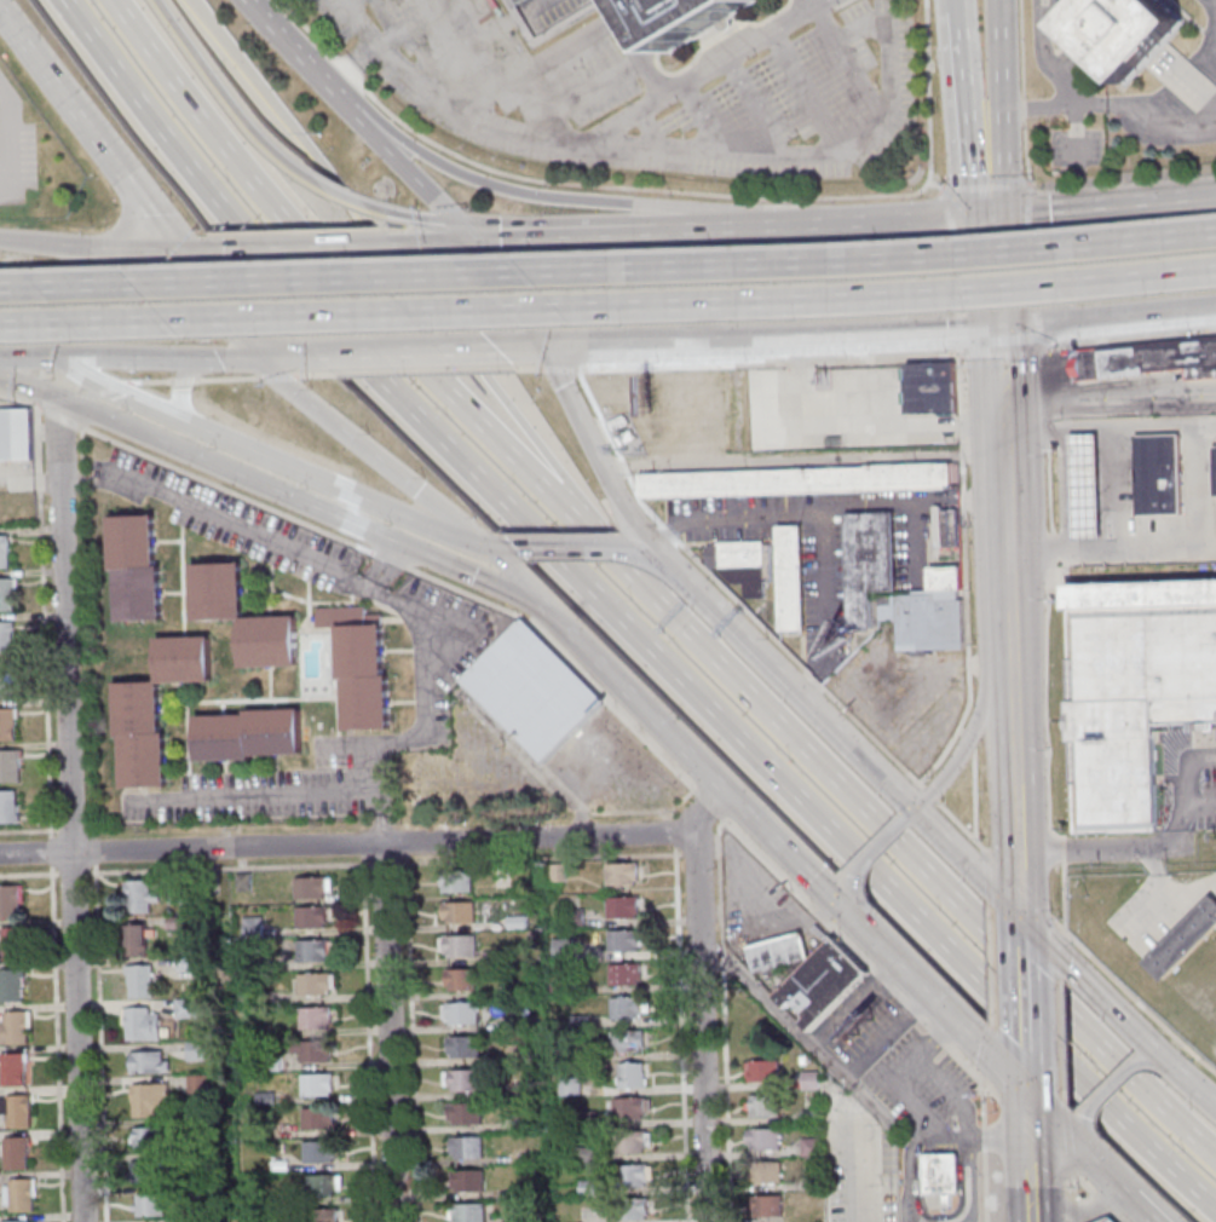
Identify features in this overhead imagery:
road: (344, 2)
road: (809, 2)
road: (831, 2)
road: (840, 4)
road: (951, 4)
building: (688, 17)
road: (305, 28)
road: (387, 39)
road: (282, 41)
building: (1137, 44)
road: (460, 52)
road: (640, 54)
road: (1205, 56)
road: (534, 65)
road: (346, 71)
road: (997, 73)
road: (695, 74)
road: (957, 77)
road: (1183, 77)
road: (1060, 81)
road: (858, 85)
road: (805, 91)
road: (1021, 92)
road: (580, 96)
road: (224, 99)
road: (1083, 104)
road: (753, 105)
road: (342, 108)
road: (273, 114)
road: (704, 117)
road: (1185, 119)
road: (204, 122)
road: (86, 131)
road: (649, 131)
road: (4, 137)
parking lot: (16, 149)
road: (167, 152)
road: (693, 152)
road: (985, 177)
road: (416, 183)
road: (933, 185)
road: (1027, 185)
road: (982, 186)
road: (529, 194)
road: (336, 195)
road: (725, 195)
road: (1148, 196)
road: (1035, 207)
road: (1027, 209)
road: (947, 212)
traffic signals: (989, 212)
road: (414, 215)
road: (876, 218)
road: (714, 227)
road: (646, 229)
road: (548, 231)
traffic signals: (467, 234)
road: (431, 241)
road: (304, 244)
road: (86, 247)
road: (194, 248)
traffic signals: (173, 249)
road: (1041, 259)
road: (993, 261)
road: (607, 269)
road: (194, 275)
road: (664, 286)
road: (505, 289)
road: (607, 306)
road: (1146, 316)
road: (998, 319)
road: (1037, 324)
road: (1038, 324)
road: (957, 327)
traffic signals: (999, 328)
road: (832, 335)
road: (1128, 340)
road: (605, 345)
traffic signals: (543, 346)
road: (518, 347)
road: (400, 350)
road: (959, 351)
road: (292, 352)
road: (1001, 352)
road: (27, 357)
traffic signals: (57, 357)
road: (163, 357)
building: (1146, 358)
road: (737, 363)
road: (1001, 368)
road: (417, 370)
road: (309, 375)
road: (276, 376)
road: (227, 377)
road: (474, 377)
road: (152, 380)
road: (184, 380)
road: (177, 386)
road: (114, 387)
building: (930, 387)
road: (438, 391)
road: (92, 396)
road: (17, 398)
road: (62, 399)
road: (1110, 408)
road: (1003, 421)
road: (345, 432)
building: (13, 434)
road: (1045, 437)
road: (235, 442)
road: (1003, 449)
road: (594, 455)
building: (1212, 471)
building: (1154, 474)
building: (799, 479)
road: (1004, 484)
road: (1116, 484)
building: (1082, 486)
road: (272, 491)
road: (823, 508)
road: (242, 525)
building: (947, 526)
building: (129, 542)
road: (497, 547)
road: (567, 547)
road: (1050, 547)
traffic signals: (492, 548)
building: (2, 552)
road: (645, 552)
road: (1007, 560)
building: (739, 563)
building: (869, 564)
road: (408, 569)
road: (519, 577)
building: (791, 577)
road: (966, 577)
road: (691, 589)
building: (214, 592)
building: (136, 594)
building: (5, 595)
traffic signals: (547, 606)
building: (929, 611)
building: (338, 616)
road: (42, 619)
building: (370, 619)
road: (571, 632)
building: (4, 638)
building: (266, 641)
building: (358, 651)
building: (180, 661)
building: (1147, 662)
building: (6, 681)
road: (622, 684)
road: (790, 688)
building: (529, 692)
building: (364, 703)
road: (1044, 704)
building: (136, 709)
road: (1012, 719)
building: (6, 725)
road: (970, 728)
road: (959, 730)
road: (866, 731)
building: (271, 732)
building: (220, 738)
road: (967, 740)
road: (750, 755)
road: (526, 757)
building: (142, 761)
road: (364, 762)
building: (1116, 766)
building: (7, 767)
road: (883, 783)
road: (1183, 784)
road: (927, 792)
road: (974, 795)
parking lot: (1206, 799)
building: (6, 808)
road: (69, 809)
road: (639, 811)
road: (745, 811)
road: (665, 814)
road: (958, 824)
road: (34, 830)
road: (672, 832)
road: (1016, 835)
road: (384, 840)
road: (407, 847)
road: (874, 847)
road: (362, 848)
road: (897, 848)
road: (1061, 848)
road: (1116, 849)
road: (50, 851)
road: (674, 851)
road: (35, 853)
road: (688, 853)
road: (985, 854)
road: (94, 857)
road: (541, 858)
road: (1018, 858)
road: (385, 863)
road: (184, 867)
building: (557, 874)
building: (621, 874)
road: (1156, 877)
road: (987, 880)
building: (243, 881)
building: (456, 882)
road: (1019, 884)
building: (311, 887)
road: (1020, 892)
road: (1062, 892)
road: (842, 893)
building: (177, 894)
building: (139, 895)
parking lot: (754, 899)
building: (10, 900)
building: (622, 906)
road: (1170, 907)
building: (459, 912)
building: (311, 917)
building: (574, 918)
traffic signals: (1021, 918)
building: (175, 922)
building: (517, 922)
road: (791, 926)
building: (252, 927)
road: (1021, 932)
park: (1158, 936)
building: (134, 939)
building: (623, 940)
building: (1182, 940)
building: (12, 944)
building: (460, 945)
building: (561, 949)
building: (311, 950)
building: (777, 951)
road: (1060, 951)
road: (1060, 956)
building: (492, 957)
road: (860, 957)
road: (990, 959)
building: (185, 963)
building: (624, 974)
building: (140, 980)
building: (461, 980)
building: (823, 981)
building: (313, 984)
building: (559, 984)
building: (11, 985)
road: (1022, 985)
building: (515, 990)
building: (264, 996)
road: (1131, 996)
road: (701, 1001)
road: (853, 1003)
road: (937, 1003)
building: (189, 1007)
building: (626, 1008)
building: (462, 1013)
building: (863, 1013)
building: (313, 1016)
road: (722, 1020)
building: (577, 1021)
road: (786, 1021)
building: (142, 1022)
parking lot: (858, 1024)
building: (15, 1027)
road: (991, 1030)
road: (388, 1031)
road: (368, 1038)
road: (411, 1038)
road: (887, 1038)
building: (627, 1041)
road: (99, 1042)
road: (1061, 1042)
road: (56, 1043)
road: (1024, 1043)
building: (463, 1047)
building: (195, 1050)
building: (312, 1050)
road: (985, 1053)
road: (1153, 1057)
building: (271, 1061)
building: (148, 1062)
building: (12, 1070)
building: (761, 1070)
road: (980, 1074)
building: (632, 1076)
building: (463, 1079)
road: (1025, 1079)
building: (809, 1080)
parking lot: (917, 1080)
building: (196, 1084)
building: (316, 1084)
road: (1108, 1085)
building: (570, 1086)
building: (524, 1089)
road: (950, 1093)
building: (264, 1097)
traffic signals: (1026, 1099)
building: (150, 1100)
road: (980, 1101)
building: (763, 1105)
road: (918, 1106)
building: (628, 1107)
building: (16, 1109)
building: (465, 1113)
building: (811, 1116)
building: (317, 1118)
building: (587, 1119)
building: (523, 1123)
road: (1057, 1130)
road: (1033, 1132)
road: (1082, 1135)
building: (148, 1137)
road: (1067, 1137)
building: (762, 1139)
road: (982, 1139)
building: (629, 1142)
building: (466, 1146)
building: (811, 1147)
building: (318, 1151)
building: (15, 1152)
road: (1028, 1152)
building: (586, 1154)
building: (198, 1158)
building: (524, 1158)
road: (854, 1160)
building: (278, 1165)
road: (910, 1170)
building: (144, 1171)
building: (766, 1171)
building: (940, 1172)
road: (1070, 1174)
road: (1071, 1174)
building: (630, 1176)
parking lot: (861, 1176)
building: (467, 1180)
road: (1111, 1181)
road: (966, 1182)
building: (812, 1183)
building: (321, 1184)
building: (589, 1187)
road: (984, 1187)
building: (524, 1191)
building: (19, 1193)
building: (201, 1195)
road: (1072, 1198)
road: (1095, 1198)
building: (150, 1204)
building: (767, 1205)
building: (632, 1210)
road: (1141, 1211)
road: (1143, 1211)
building: (468, 1212)
road: (1032, 1215)
building: (321, 1216)
building: (526, 1217)
building: (201, 1220)
building: (1107, 1220)
building: (17, 1221)

